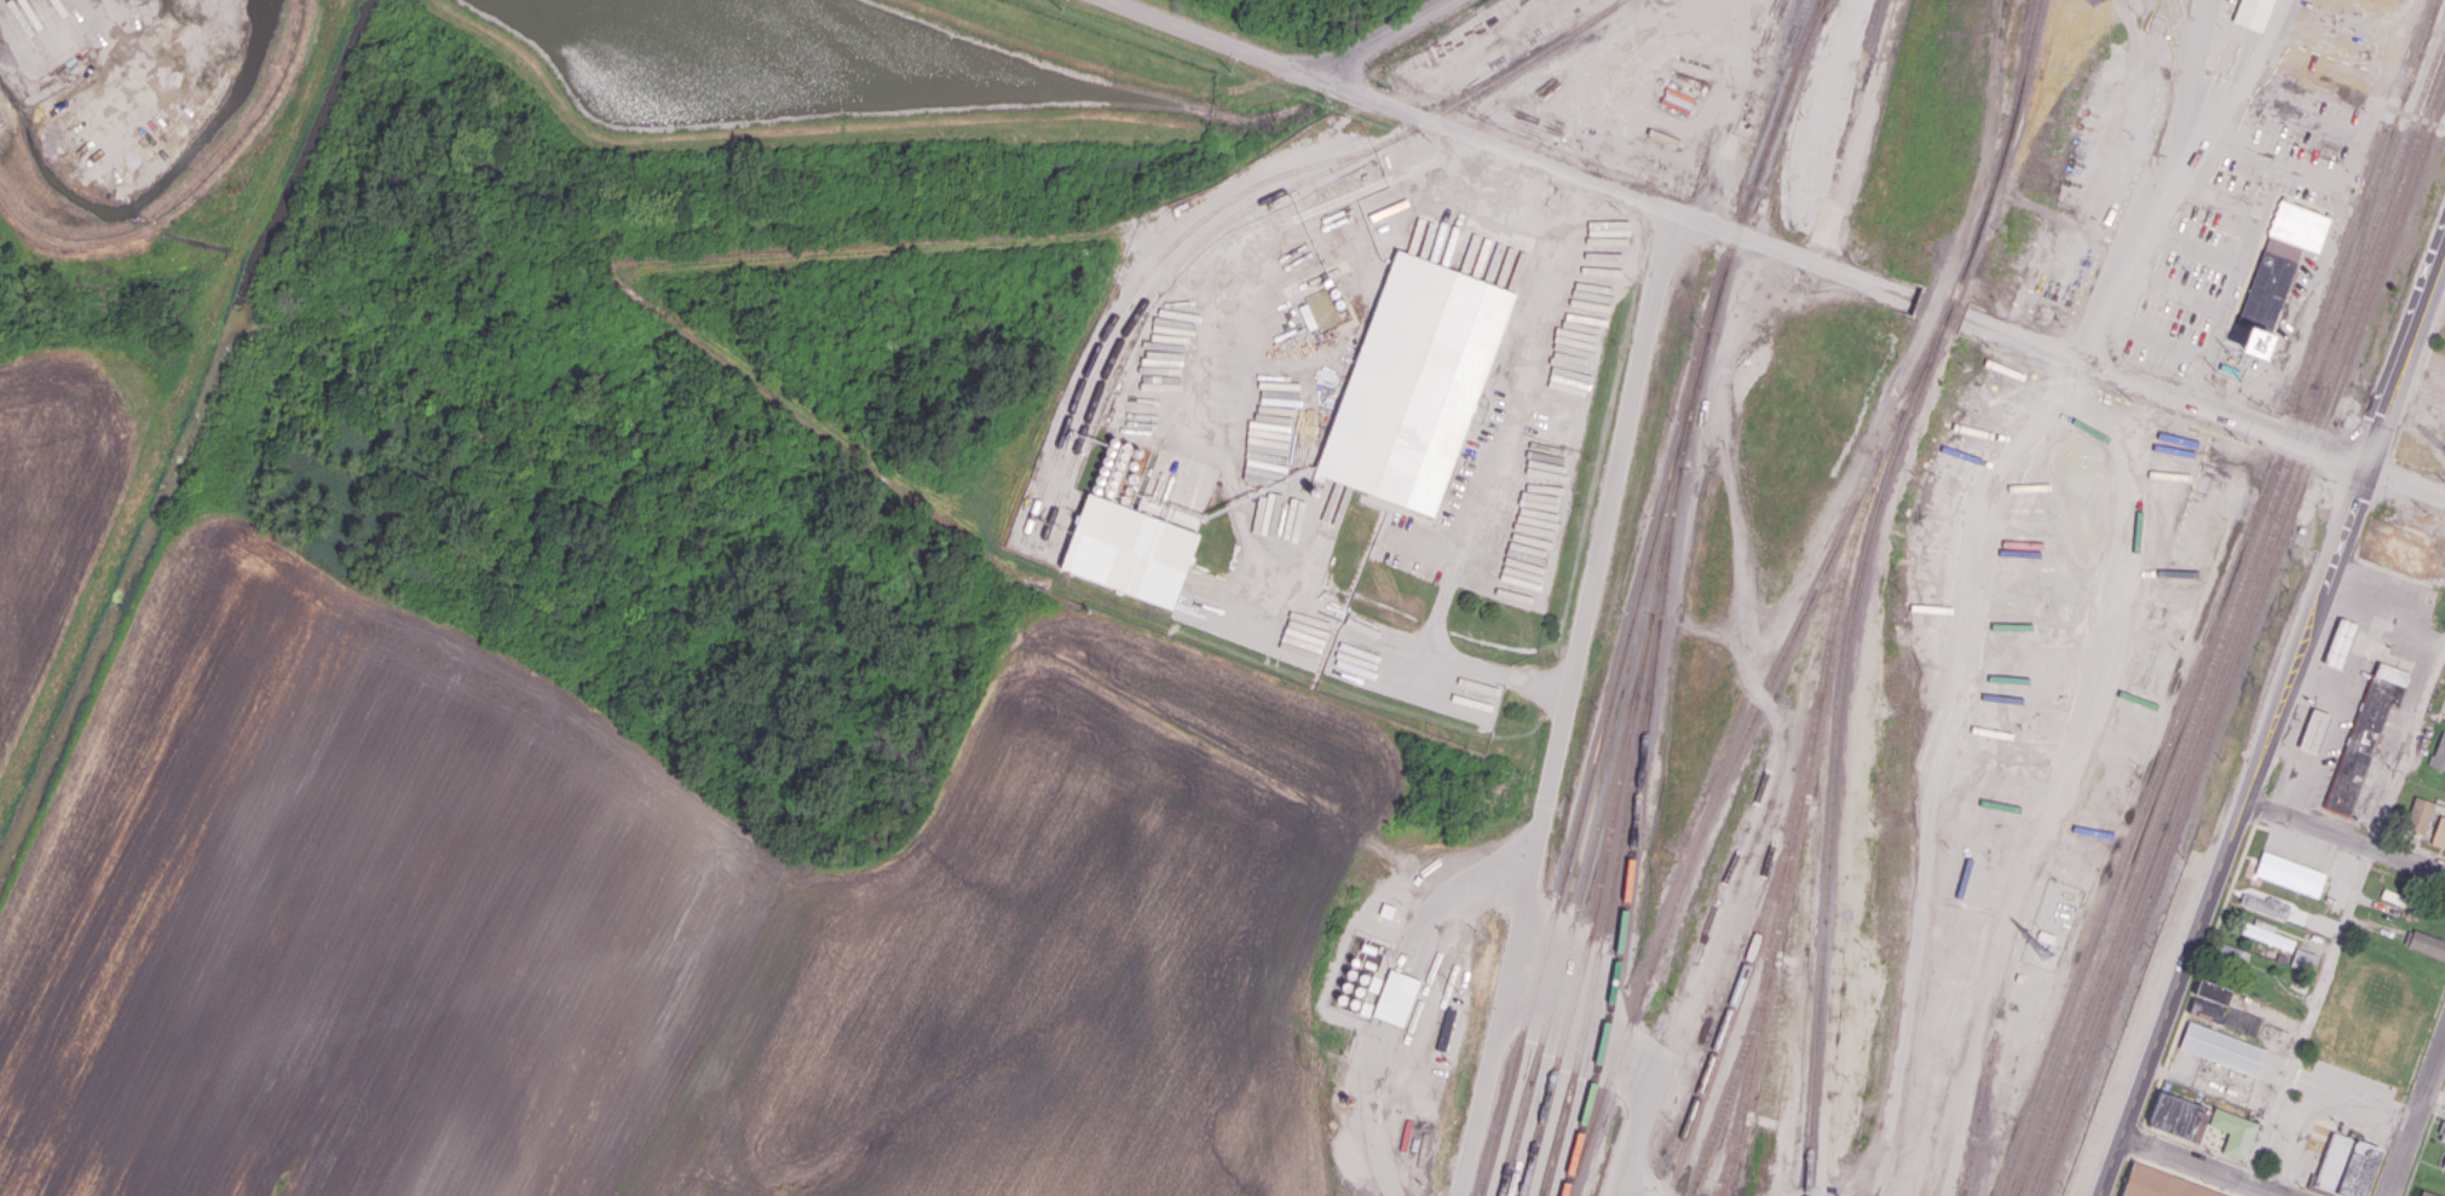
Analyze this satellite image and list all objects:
building: (2253, 13)
railway: (2430, 18)
road: (1385, 37)
road: (2193, 60)
road: (1389, 103)
railway: (1459, 103)
road: (2244, 151)
railway: (2002, 160)
road: (2294, 171)
building: (2299, 225)
building: (2283, 248)
road: (1792, 255)
railway: (2380, 270)
railway: (1136, 285)
building: (2265, 301)
railway: (1123, 335)
road: (2404, 353)
road: (2089, 354)
road: (2198, 379)
building: (1414, 382)
road: (2162, 393)
road: (2404, 478)
building: (1337, 502)
crop: (59, 507)
building: (1129, 550)
building: (2400, 557)
building: (2437, 573)
railway: (1639, 594)
railway: (2222, 599)
railway: (2231, 613)
railway: (2237, 630)
building: (2337, 643)
gas station: (2337, 643)
road: (1499, 670)
building: (2312, 730)
gas station: (2312, 730)
building: (2365, 734)
railway: (1810, 747)
railway: (1835, 747)
building: (2439, 752)
road: (1545, 773)
railway: (1640, 775)
railway: (1717, 795)
building: (2420, 815)
railway: (2178, 822)
road: (2230, 828)
building: (2439, 833)
road: (2342, 837)
railway: (1605, 855)
road: (2349, 857)
building: (2290, 873)
building: (2404, 901)
building: (2265, 906)
road: (2345, 919)
building: (2319, 921)
railway: (1572, 925)
crop: (667, 929)
building: (2266, 932)
railway: (1602, 936)
building: (2424, 943)
building: (2227, 955)
building: (2302, 959)
road: (2198, 975)
building: (2214, 992)
building: (1396, 996)
railway: (1730, 1006)
building: (2230, 1017)
parking lot: (2132, 1030)
building: (2220, 1048)
railway: (1731, 1087)
building: (2179, 1115)
road: (2416, 1117)
building: (2441, 1129)
building: (2234, 1132)
road: (2137, 1140)
road: (2192, 1144)
building: (2331, 1161)
building: (2444, 1163)
road: (2203, 1165)
road: (2251, 1165)
railway: (1729, 1169)
building: (2355, 1169)
road: (2267, 1172)
road: (2181, 1175)
road: (2123, 1177)
road: (2287, 1178)
building: (2159, 1184)
road: (2244, 1189)
road: (2317, 1189)
building: (2426, 1194)
road: (2234, 1195)

